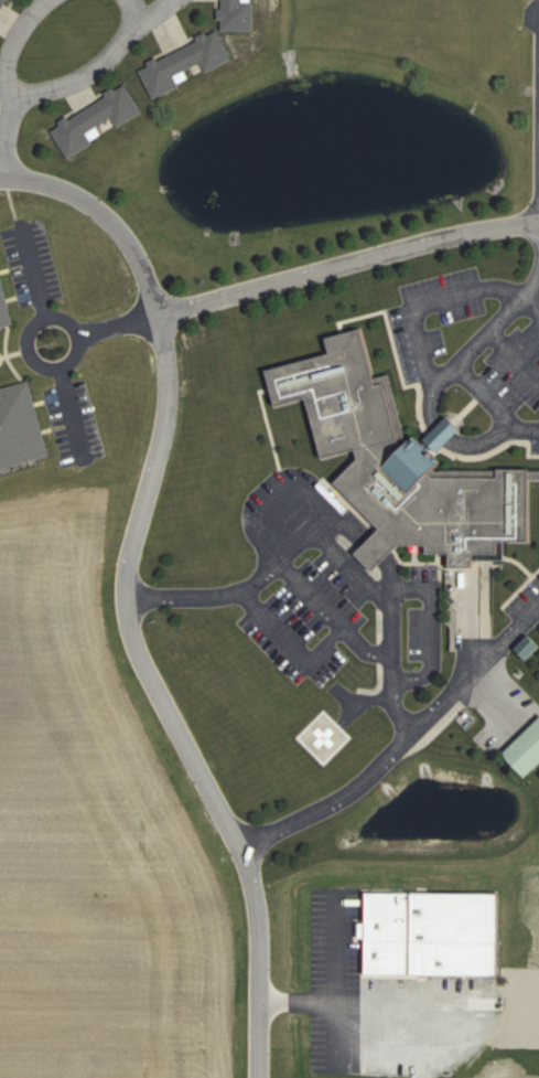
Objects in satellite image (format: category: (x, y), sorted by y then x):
building: (2, 6)
road: (153, 10)
building: (237, 15)
building: (185, 64)
road: (47, 89)
building: (95, 121)
road: (7, 135)
road: (11, 199)
road: (105, 214)
road: (348, 262)
road: (32, 269)
road: (432, 299)
building: (4, 306)
road: (50, 314)
road: (121, 323)
road: (514, 355)
road: (460, 360)
road: (431, 402)
road: (72, 415)
building: (20, 427)
road: (444, 431)
road: (482, 439)
building: (409, 465)
road: (316, 533)
road: (326, 612)
road: (292, 642)
road: (163, 700)
helipad: (324, 735)
road: (401, 745)
building: (527, 750)

